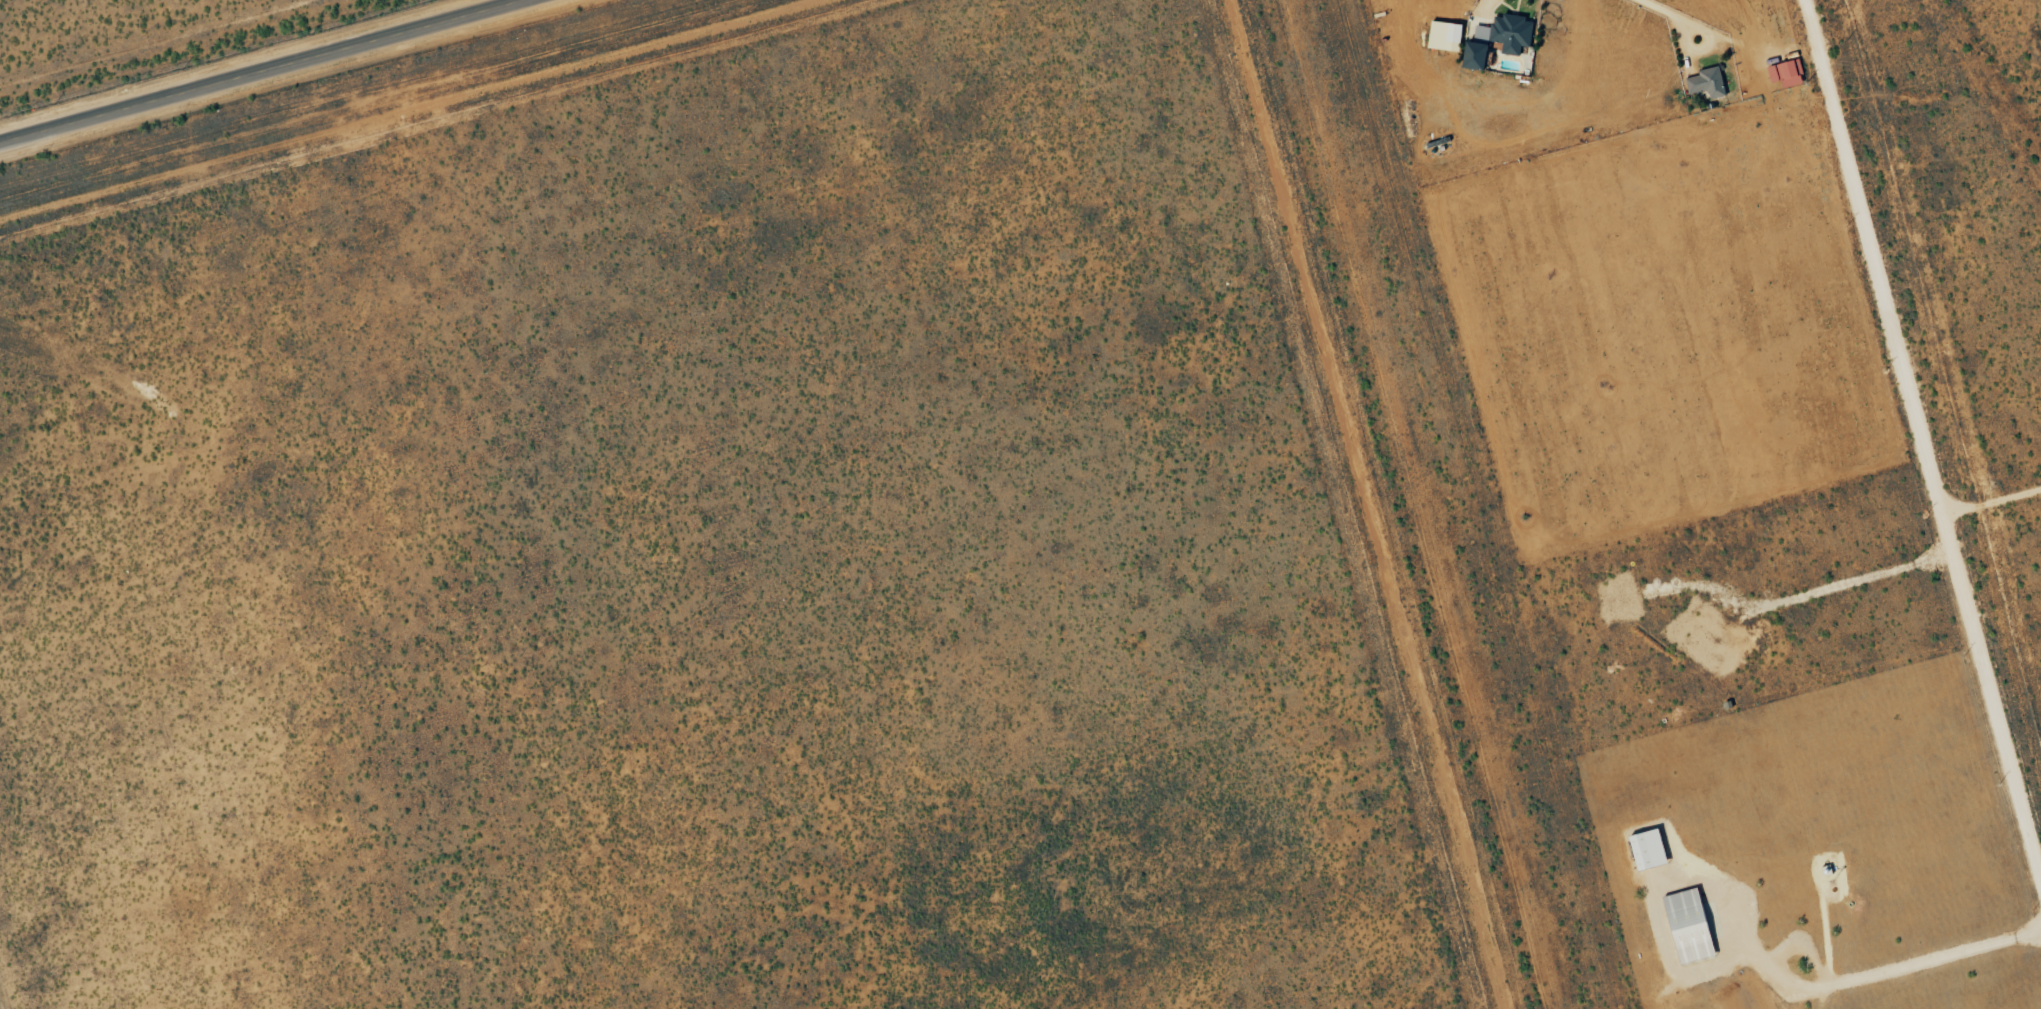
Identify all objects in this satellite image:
road: (1671, 14)
building: (1447, 36)
road: (267, 72)
building: (1789, 74)
building: (1708, 83)
road: (1929, 420)
building: (1650, 850)
building: (1691, 926)

